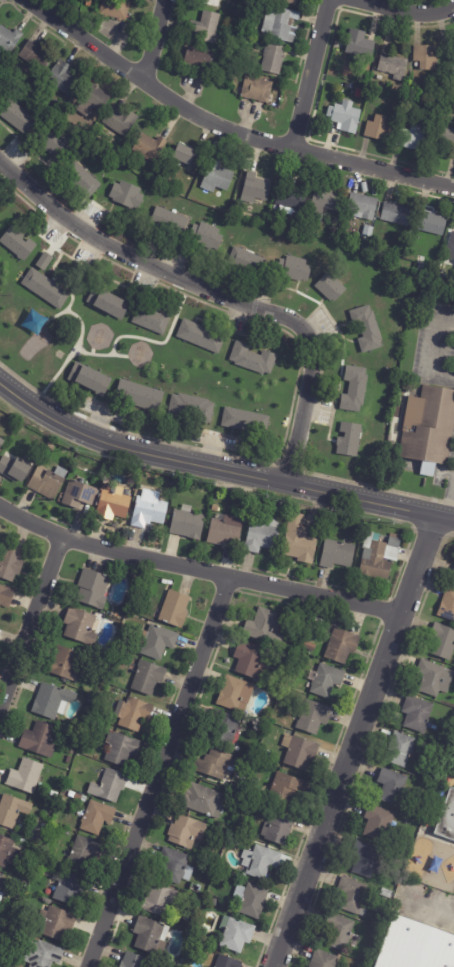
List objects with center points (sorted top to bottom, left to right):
building: (269, 0)
building: (289, 2)
building: (213, 3)
building: (116, 9)
road: (409, 11)
building: (241, 12)
building: (251, 14)
building: (281, 24)
building: (206, 27)
building: (9, 39)
road: (153, 41)
building: (361, 45)
building: (37, 56)
building: (428, 58)
building: (274, 60)
building: (199, 61)
building: (394, 67)
building: (453, 67)
road: (311, 73)
building: (63, 79)
building: (344, 85)
building: (257, 90)
building: (359, 94)
building: (93, 99)
building: (18, 117)
building: (346, 117)
building: (121, 122)
road: (223, 125)
building: (379, 129)
building: (447, 136)
building: (414, 138)
building: (55, 144)
building: (150, 148)
building: (185, 157)
building: (217, 178)
building: (82, 181)
building: (256, 189)
building: (127, 196)
building: (292, 198)
building: (327, 202)
building: (237, 206)
building: (363, 207)
building: (396, 215)
building: (170, 223)
building: (432, 224)
building: (369, 232)
building: (206, 237)
building: (367, 242)
building: (18, 244)
building: (376, 245)
building: (451, 250)
building: (43, 261)
building: (248, 262)
building: (295, 271)
building: (442, 282)
building: (331, 288)
building: (46, 289)
road: (217, 292)
building: (109, 304)
building: (152, 321)
building: (368, 330)
building: (201, 338)
road: (431, 349)
building: (253, 360)
building: (90, 381)
building: (355, 390)
building: (140, 396)
building: (192, 408)
building: (246, 422)
building: (430, 430)
building: (350, 441)
building: (2, 442)
building: (114, 467)
building: (15, 469)
road: (219, 470)
building: (48, 481)
building: (108, 487)
building: (79, 494)
road: (448, 502)
building: (114, 504)
building: (282, 506)
building: (149, 511)
building: (188, 523)
building: (226, 532)
building: (263, 534)
building: (300, 540)
building: (338, 554)
building: (380, 556)
building: (10, 563)
road: (197, 569)
building: (453, 574)
building: (90, 587)
building: (6, 596)
building: (448, 605)
building: (175, 609)
road: (30, 621)
building: (78, 625)
building: (265, 627)
building: (158, 641)
building: (443, 641)
building: (294, 644)
building: (342, 646)
building: (291, 652)
building: (251, 661)
building: (308, 662)
building: (288, 663)
building: (66, 664)
building: (148, 677)
building: (435, 678)
building: (327, 680)
building: (232, 692)
building: (53, 701)
building: (91, 701)
building: (134, 714)
building: (418, 714)
building: (315, 717)
building: (225, 728)
building: (41, 740)
road: (357, 742)
building: (122, 749)
building: (71, 750)
building: (401, 750)
building: (300, 752)
building: (267, 753)
building: (218, 765)
building: (271, 769)
road: (162, 772)
building: (26, 776)
building: (110, 786)
building: (393, 786)
building: (287, 788)
building: (54, 794)
building: (78, 797)
building: (237, 798)
building: (51, 800)
building: (204, 801)
building: (265, 806)
building: (13, 811)
building: (97, 818)
building: (446, 819)
building: (246, 820)
building: (379, 823)
building: (279, 828)
building: (187, 832)
building: (38, 833)
building: (236, 840)
building: (215, 849)
building: (8, 853)
building: (85, 853)
building: (399, 856)
building: (368, 860)
building: (264, 862)
building: (176, 866)
building: (1, 881)
building: (195, 888)
building: (69, 889)
building: (386, 893)
building: (1, 897)
building: (353, 897)
building: (196, 899)
building: (160, 900)
building: (254, 902)
building: (215, 903)
road: (429, 906)
building: (56, 924)
building: (339, 931)
building: (236, 934)
building: (150, 935)
building: (196, 938)
building: (210, 942)
building: (416, 946)
building: (44, 955)
building: (324, 959)
building: (135, 961)
building: (228, 962)

